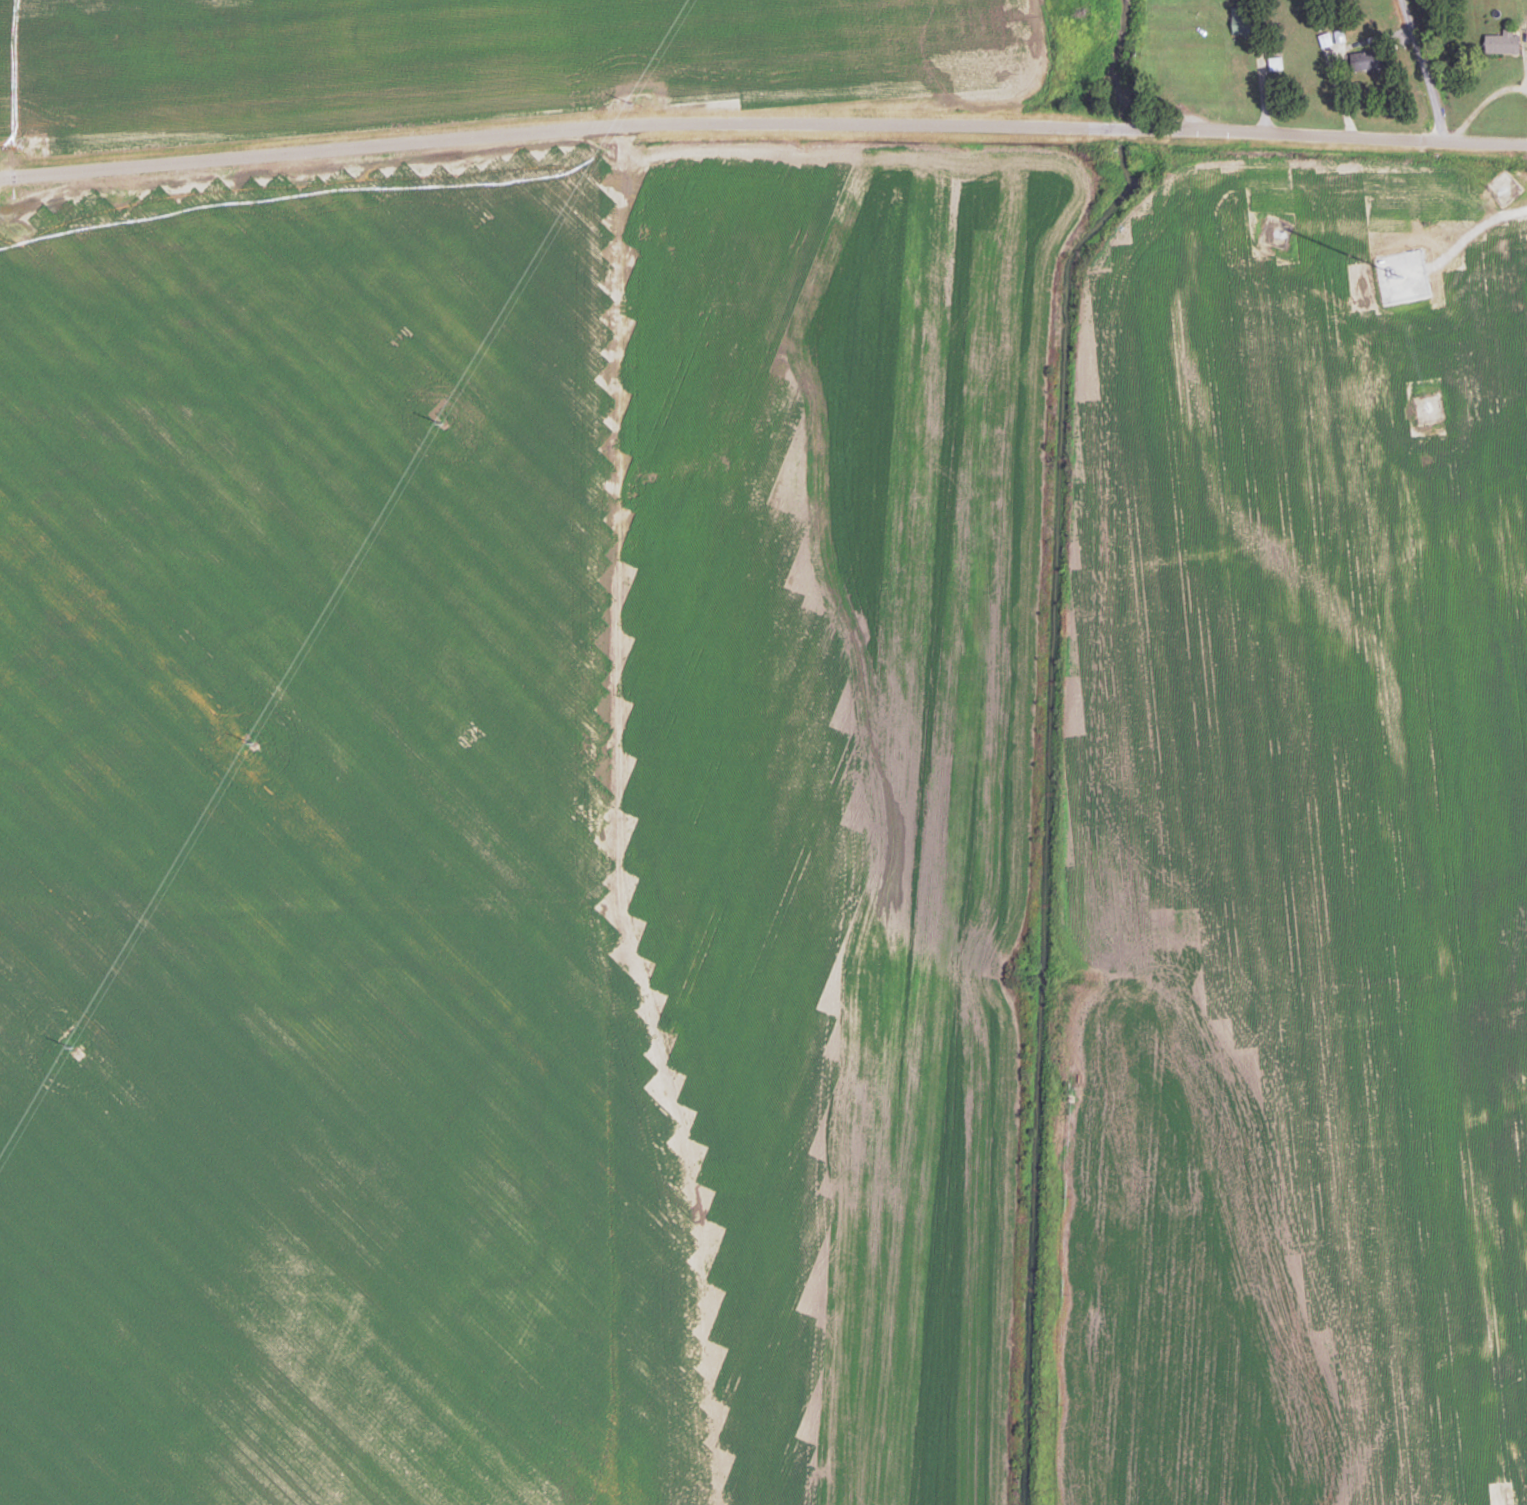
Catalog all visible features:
building: (1246, 21)
building: (1504, 43)
building: (1369, 60)
road: (1308, 67)
road: (1424, 70)
road: (1480, 95)
road: (762, 123)
road: (599, 804)

